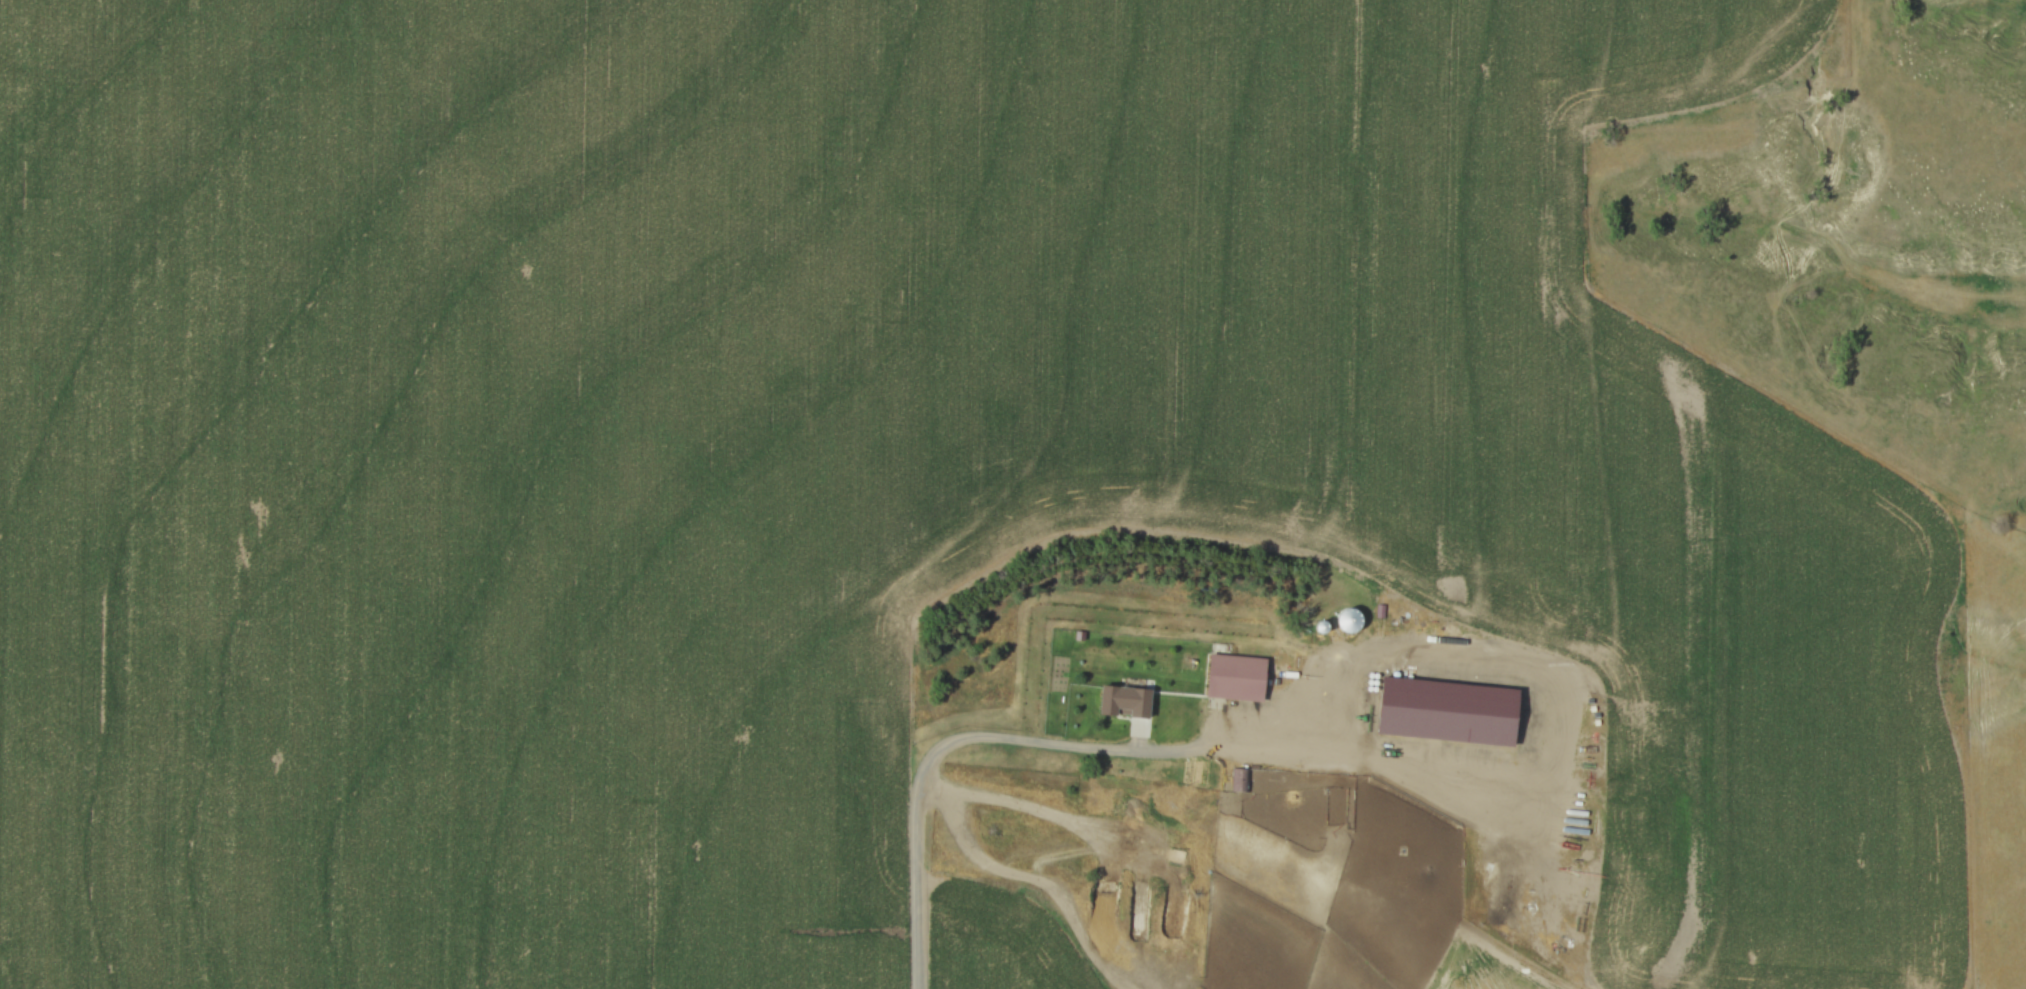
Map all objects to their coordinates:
crop: (861, 462)
building: (1236, 678)
building: (1122, 698)
road: (925, 769)
building: (1238, 780)
building: (1338, 840)

